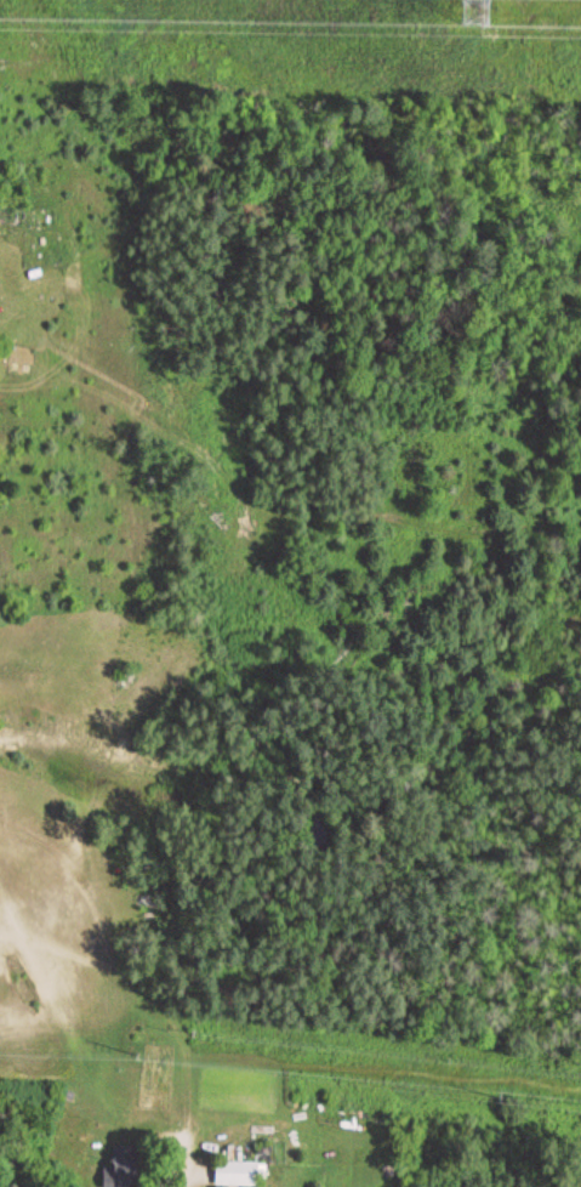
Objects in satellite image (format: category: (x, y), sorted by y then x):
power tower: (466, 7)
road: (167, 1147)
building: (125, 1168)
building: (243, 1174)

